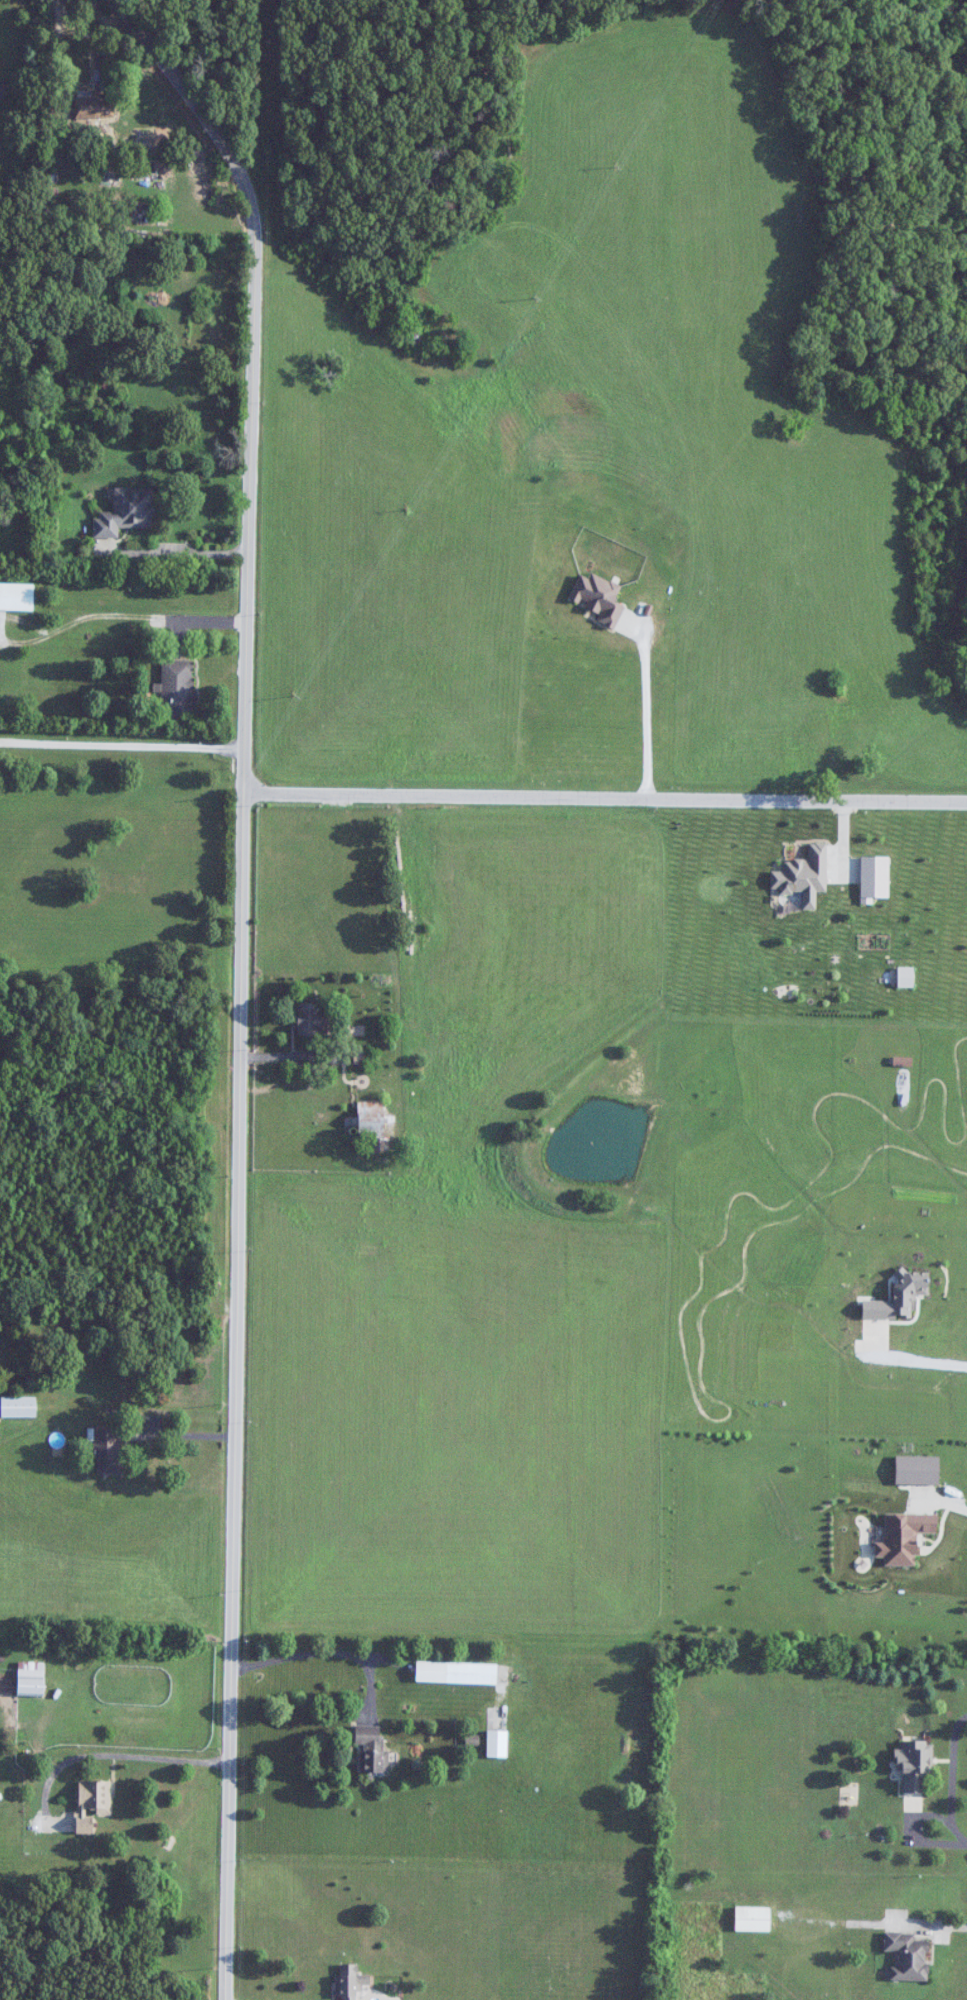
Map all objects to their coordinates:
road: (55, 54)
building: (3, 89)
building: (93, 106)
building: (0, 143)
building: (126, 512)
road: (178, 552)
building: (16, 596)
road: (198, 620)
building: (178, 687)
road: (640, 702)
road: (122, 745)
road: (605, 796)
road: (240, 977)
building: (311, 1021)
building: (371, 1121)
building: (18, 1407)
road: (180, 1433)
building: (108, 1450)
road: (323, 1650)
building: (456, 1671)
building: (30, 1681)
building: (496, 1743)
building: (372, 1748)
road: (109, 1752)
building: (914, 1765)
road: (951, 1776)
building: (92, 1802)
building: (752, 1919)
road: (937, 1924)
building: (908, 1956)
building: (349, 1982)

